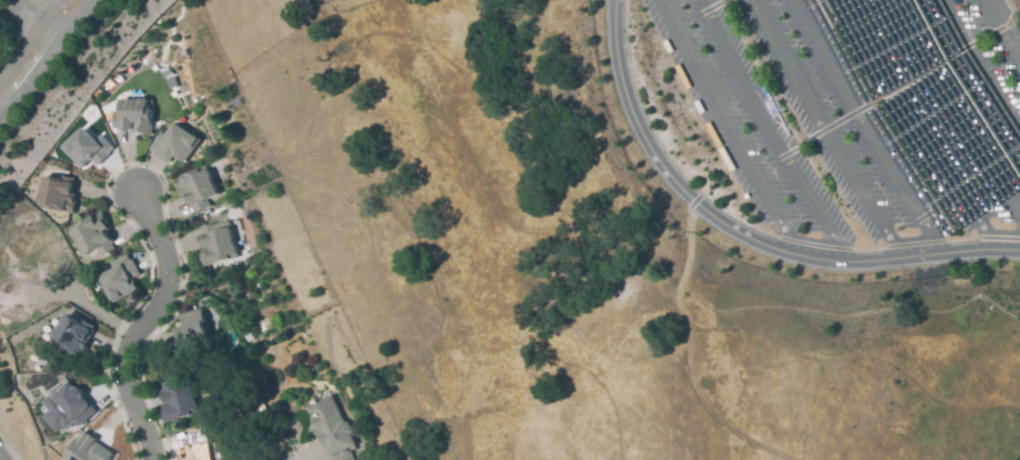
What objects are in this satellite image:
road: (1013, 11)
road: (24, 12)
road: (700, 13)
park: (5, 17)
road: (1000, 31)
road: (32, 38)
road: (45, 58)
road: (981, 60)
road: (882, 95)
road: (946, 107)
building: (134, 116)
road: (917, 124)
road: (727, 126)
road: (769, 127)
road: (821, 127)
road: (868, 127)
building: (174, 143)
building: (87, 148)
building: (197, 188)
building: (57, 194)
road: (697, 197)
road: (1016, 214)
road: (740, 234)
building: (92, 235)
building: (217, 243)
road: (897, 245)
building: (119, 279)
road: (96, 315)
road: (141, 326)
building: (193, 331)
building: (73, 334)
road: (688, 354)
building: (181, 400)
building: (62, 408)
building: (330, 430)
building: (196, 447)
building: (87, 449)

